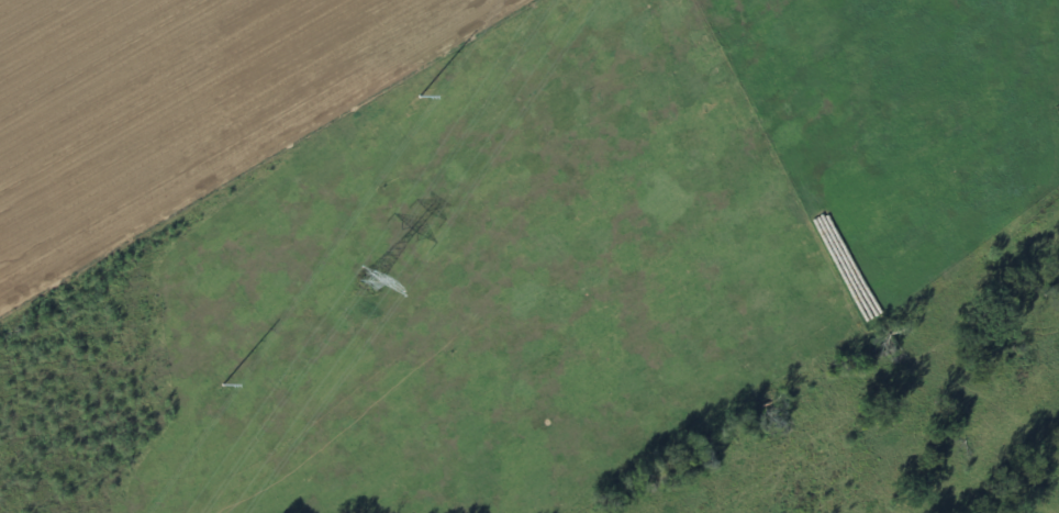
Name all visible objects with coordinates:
power tower: (421, 97)
power tower: (367, 278)
power tower: (225, 383)

